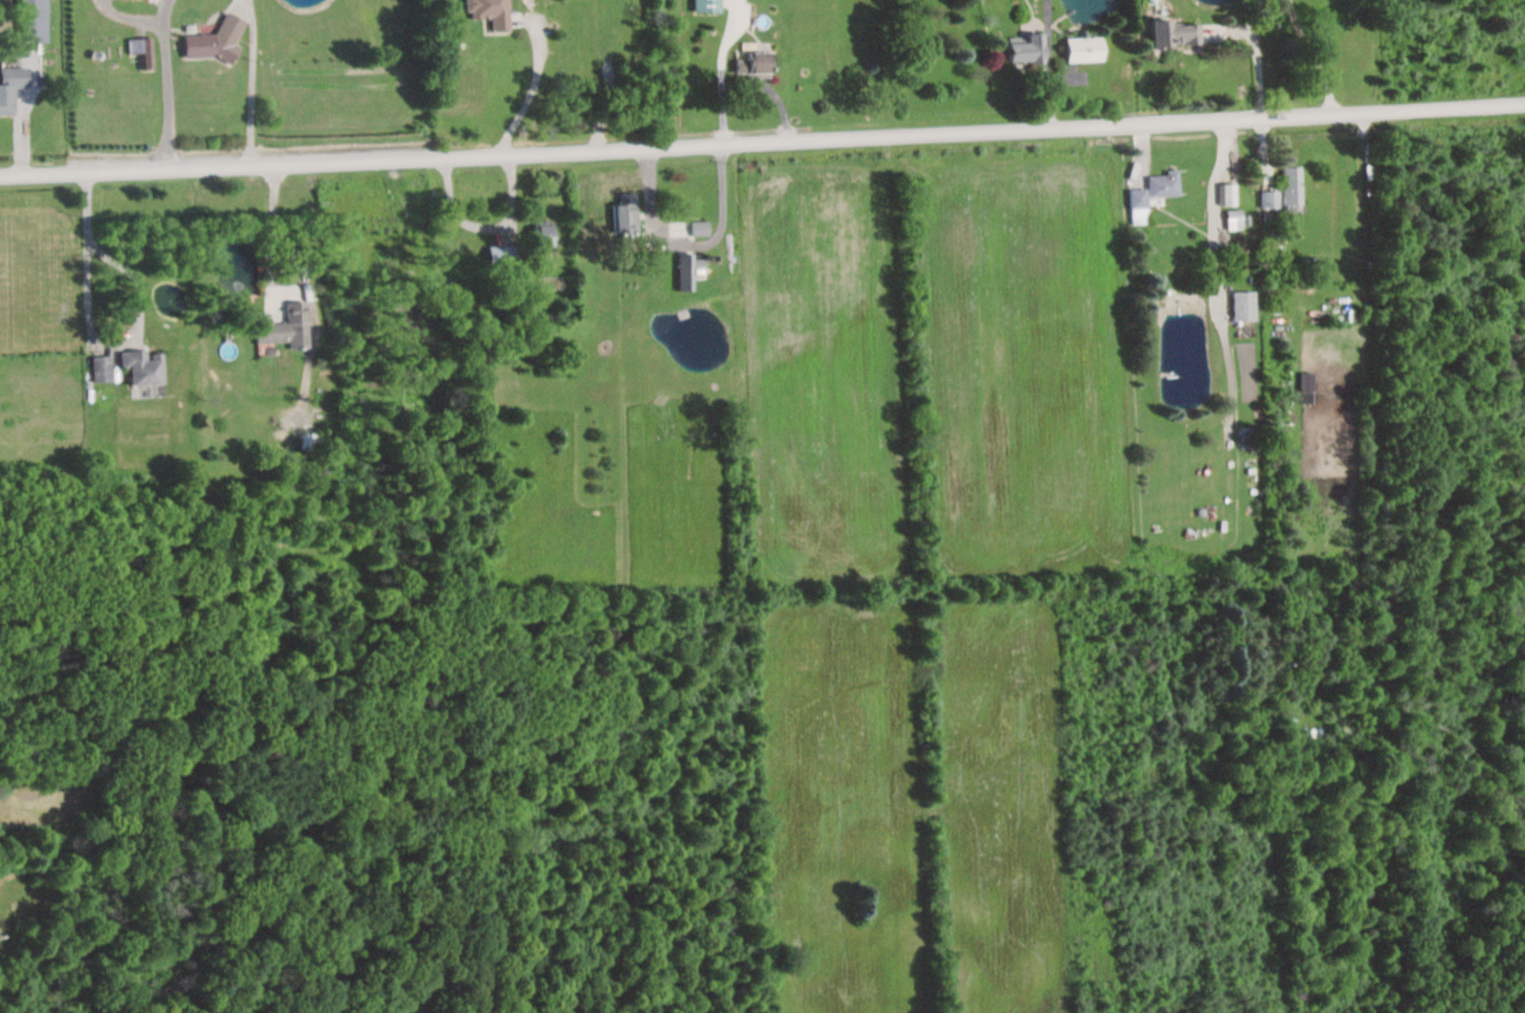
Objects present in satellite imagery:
building: (703, 6)
building: (485, 13)
building: (1170, 38)
building: (204, 49)
building: (1020, 51)
building: (1078, 51)
road: (1253, 58)
building: (747, 62)
road: (1047, 65)
road: (250, 82)
road: (166, 83)
building: (11, 88)
road: (528, 92)
road: (762, 143)
building: (1161, 185)
building: (1288, 188)
building: (1224, 195)
building: (1135, 207)
road: (1211, 214)
building: (622, 216)
building: (1231, 221)
building: (696, 229)
road: (268, 232)
road: (83, 244)
road: (688, 246)
building: (681, 273)
building: (1240, 307)
building: (285, 328)
building: (143, 367)
building: (100, 369)
building: (307, 443)

